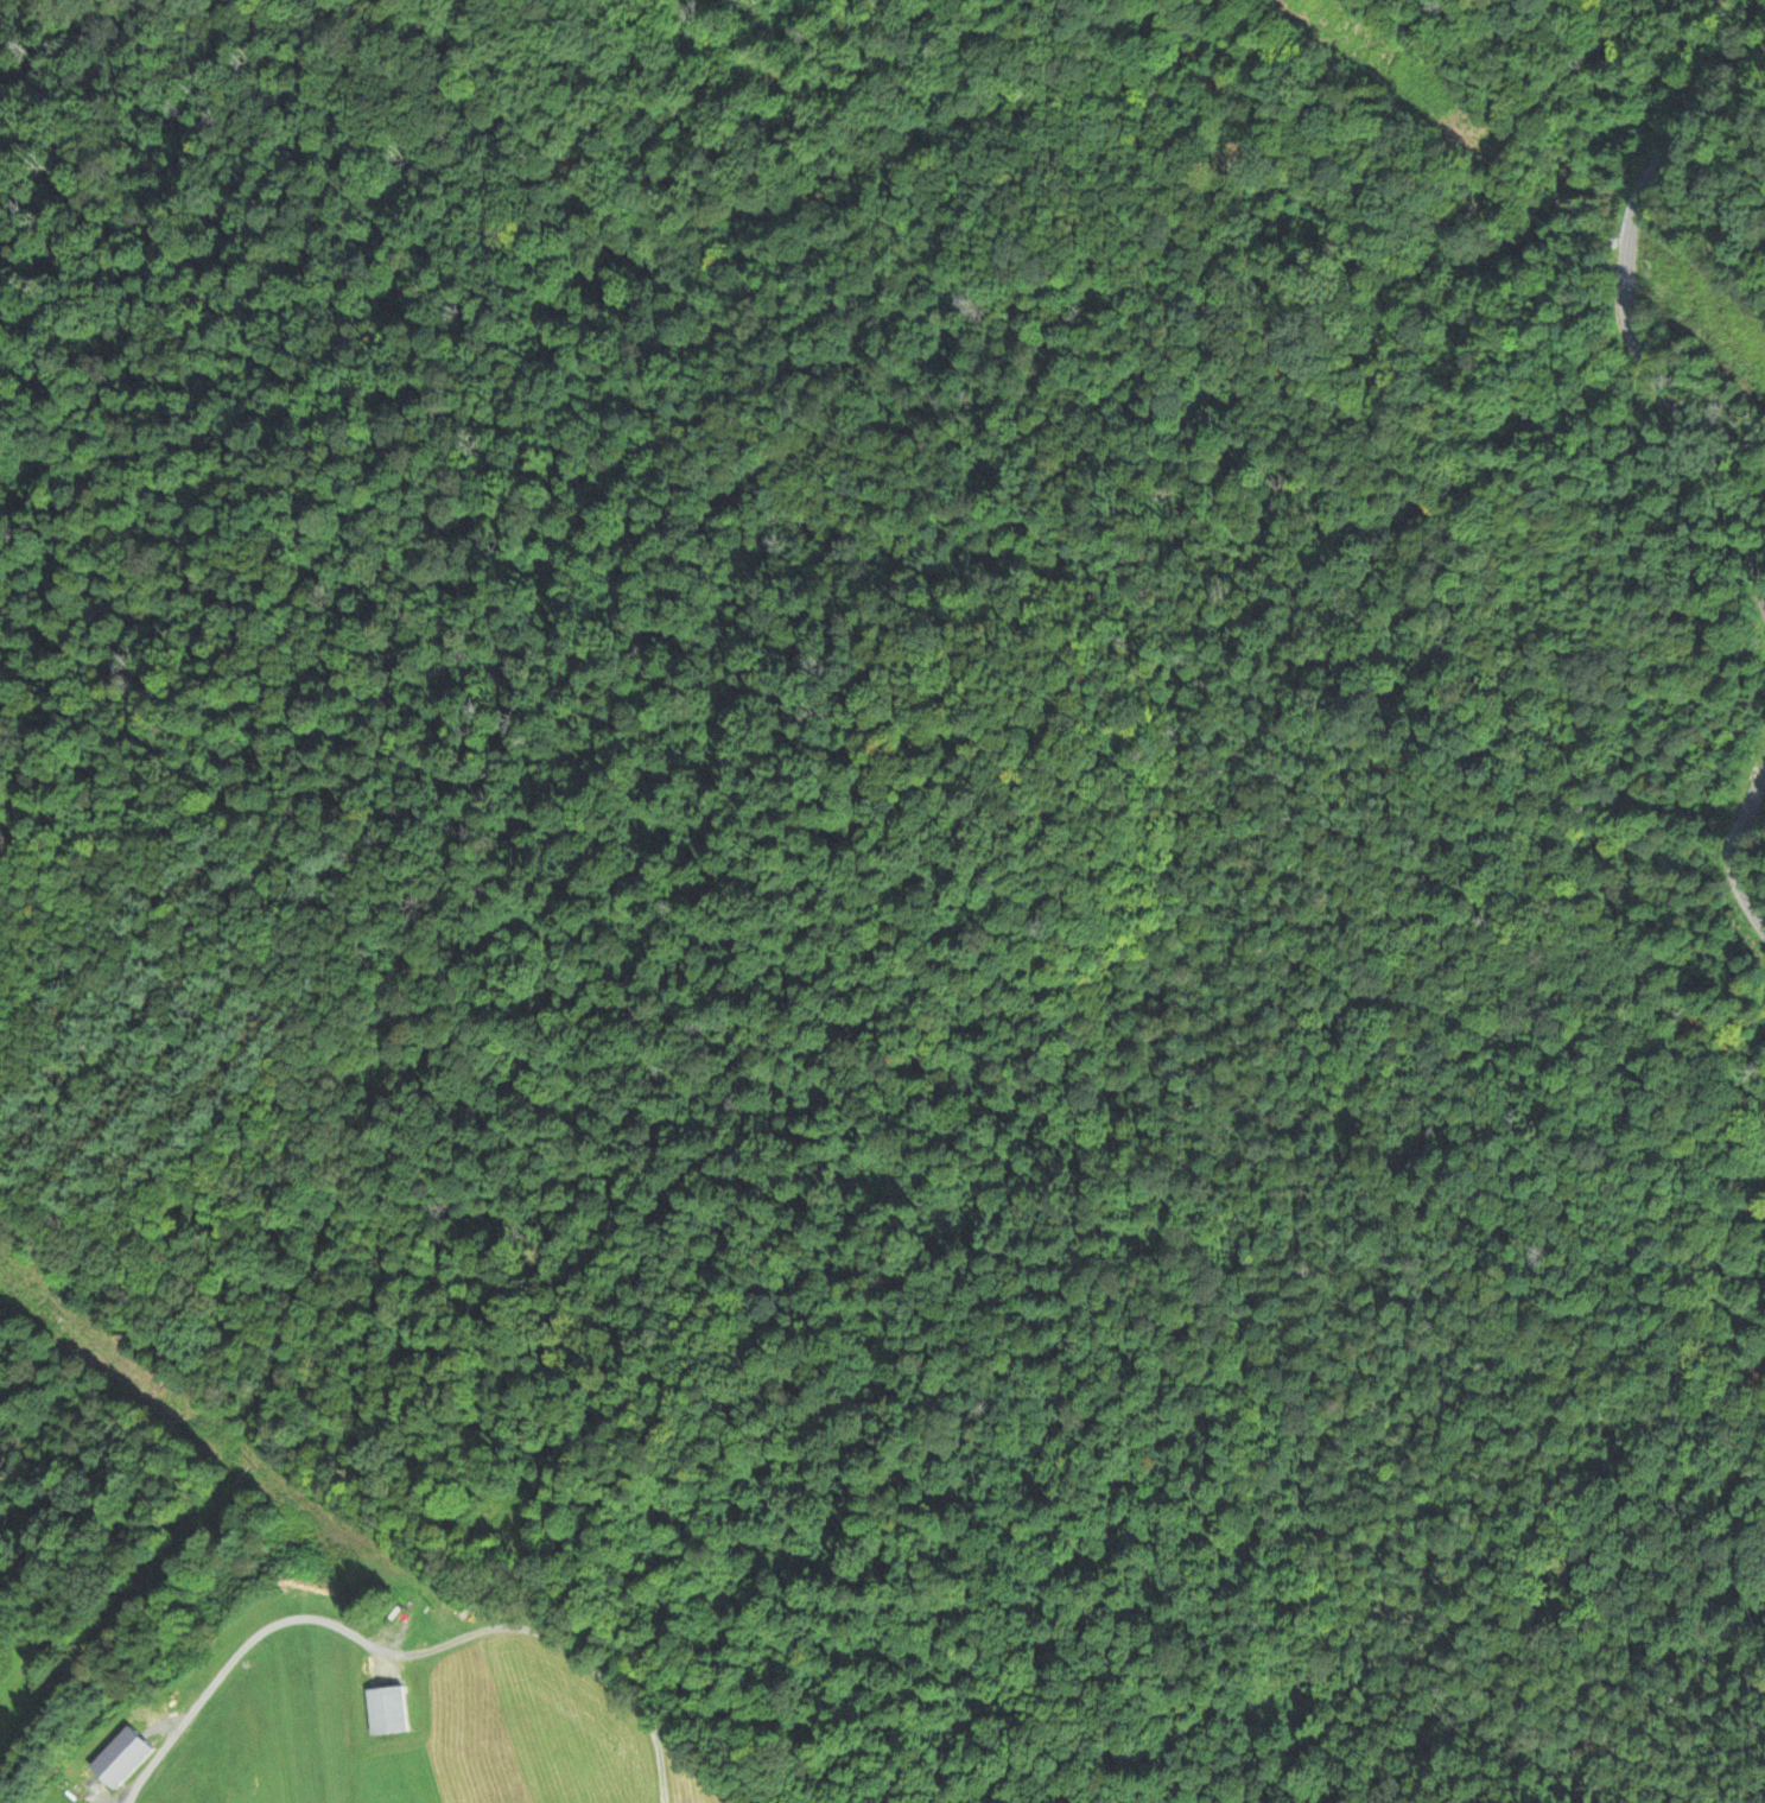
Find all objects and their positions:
road: (1627, 297)
road: (1737, 852)
road: (396, 1655)
airport runway: (311, 1728)
building: (118, 1751)

